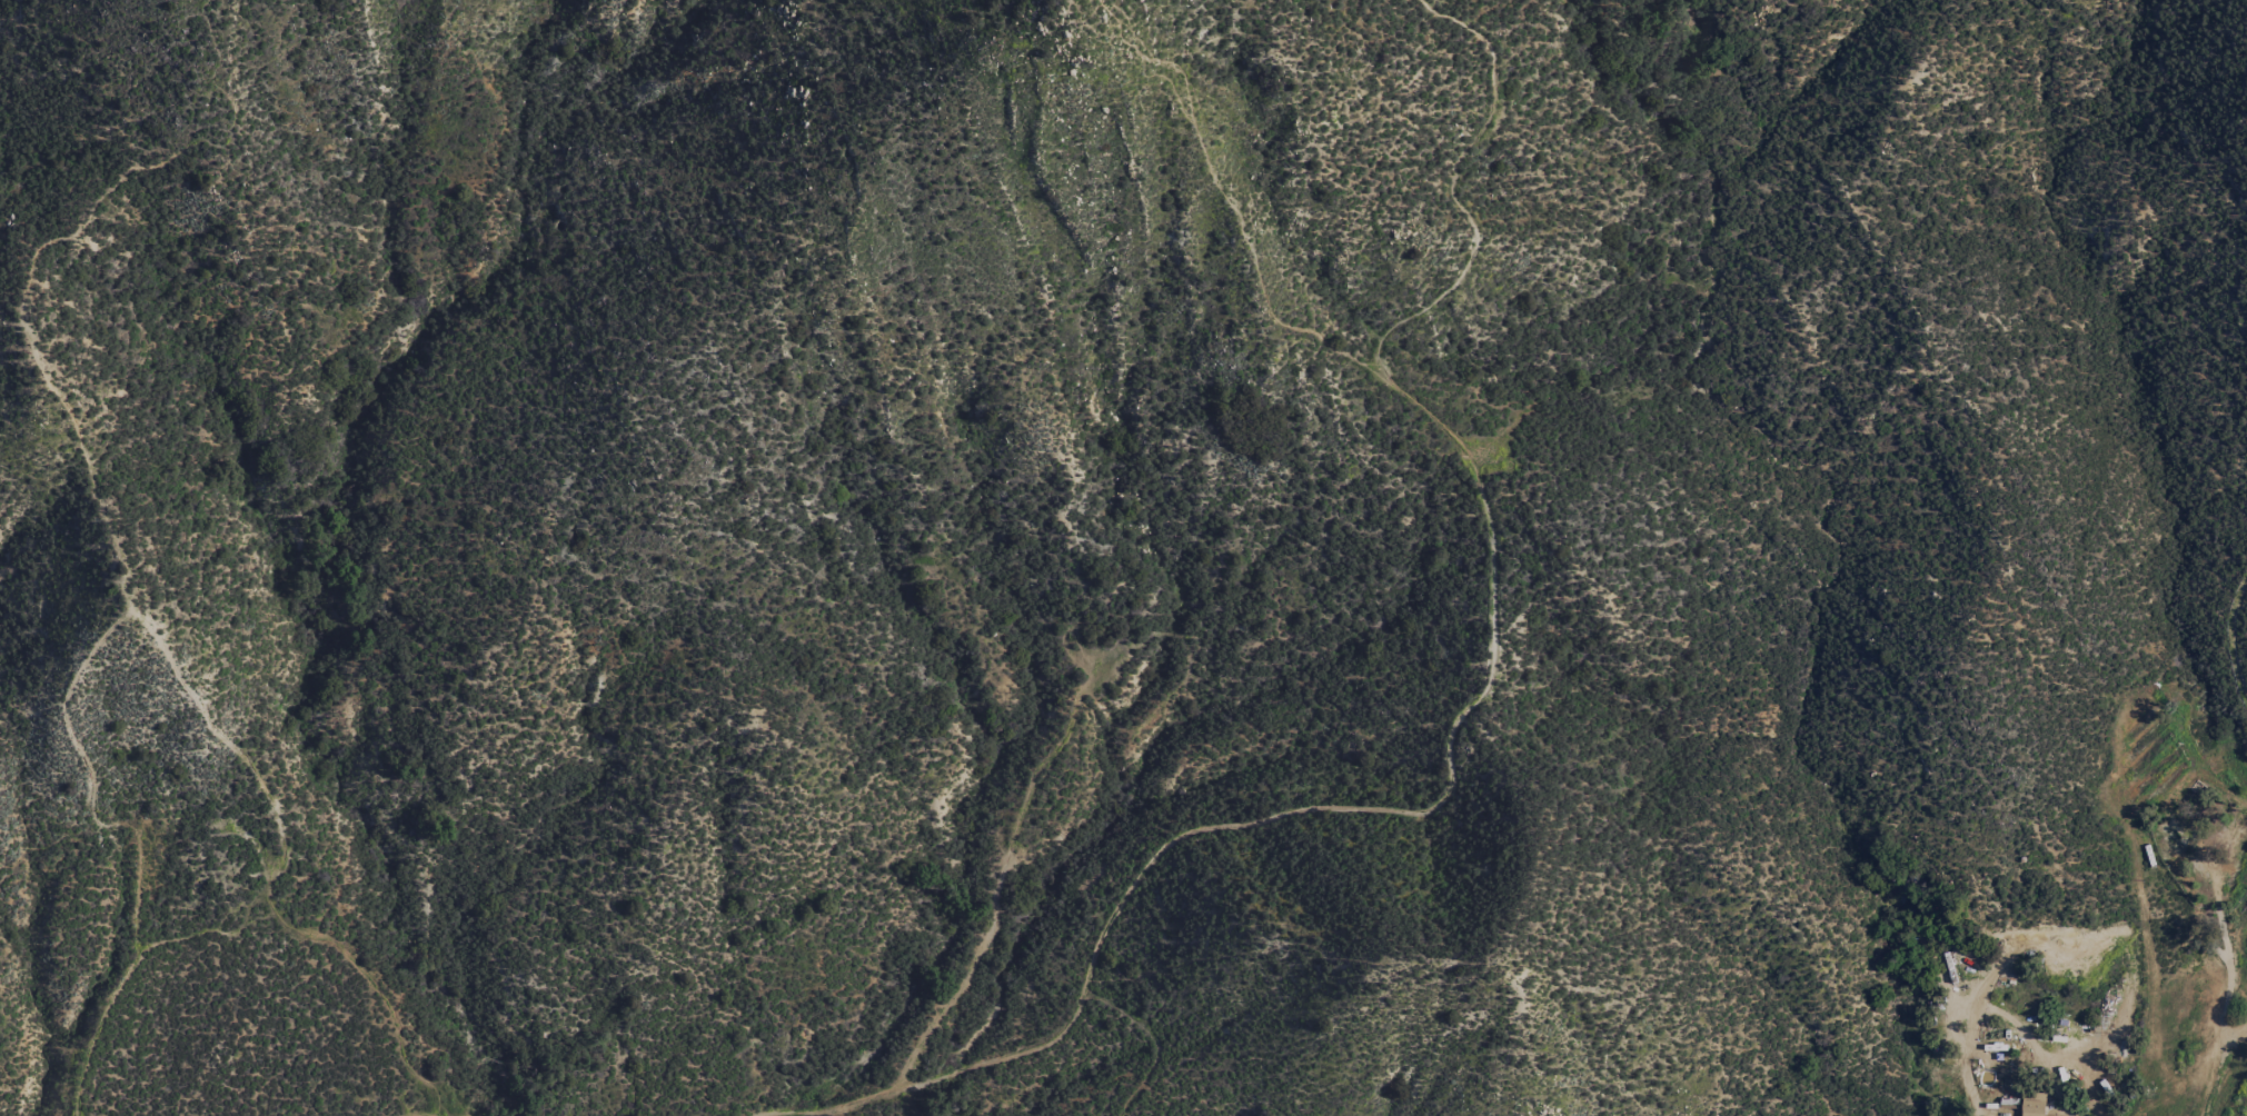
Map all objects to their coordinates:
road: (1970, 1062)

